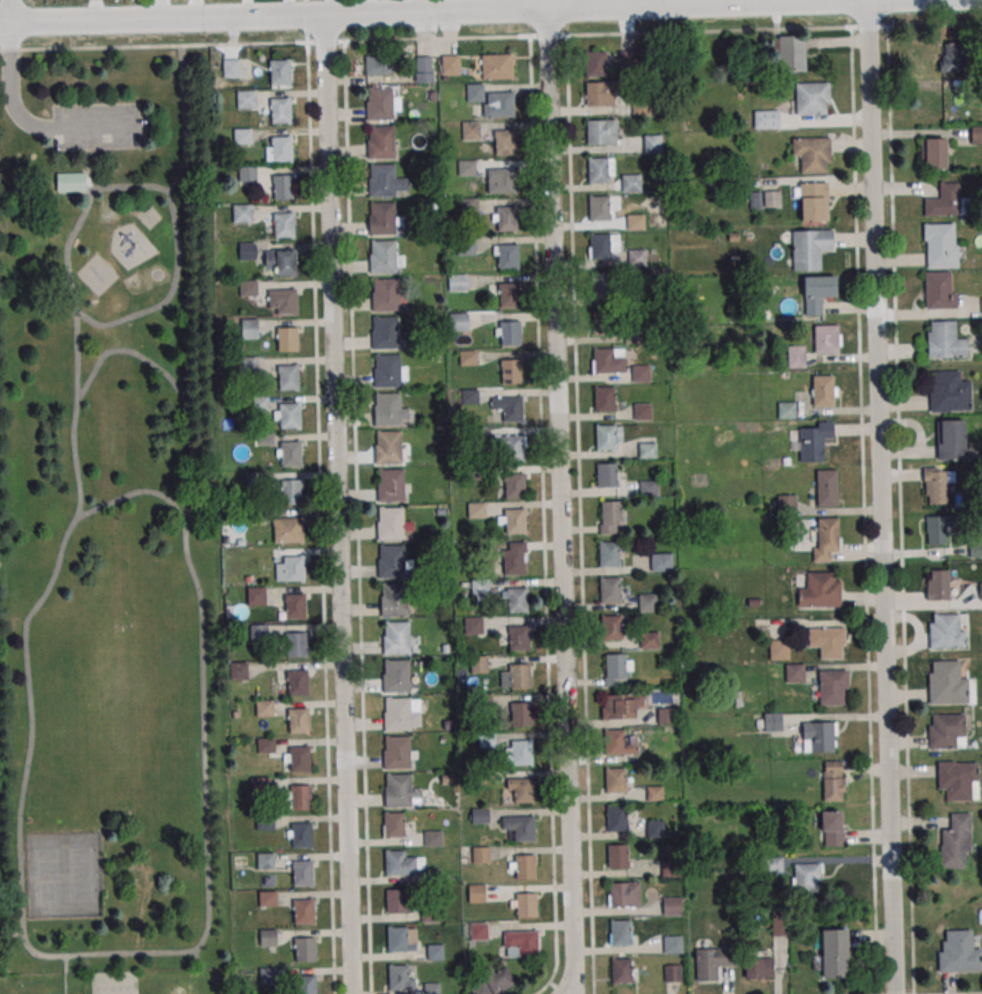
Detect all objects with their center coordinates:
road: (7, 11)
road: (434, 11)
road: (644, 31)
building: (791, 54)
building: (952, 57)
building: (379, 58)
building: (595, 63)
building: (450, 64)
building: (495, 66)
building: (232, 67)
building: (425, 69)
building: (280, 72)
road: (9, 87)
building: (596, 94)
building: (812, 98)
building: (246, 99)
building: (492, 101)
building: (380, 103)
building: (280, 110)
building: (766, 118)
parking lot: (97, 125)
building: (597, 132)
building: (976, 134)
building: (243, 136)
building: (504, 137)
building: (381, 142)
building: (653, 143)
building: (282, 148)
building: (934, 151)
building: (812, 154)
building: (598, 170)
building: (248, 173)
road: (175, 178)
building: (502, 179)
building: (382, 180)
building: (71, 181)
building: (631, 183)
building: (283, 186)
building: (772, 198)
building: (943, 200)
building: (812, 201)
building: (599, 208)
building: (242, 212)
building: (382, 218)
building: (506, 218)
building: (635, 221)
building: (284, 224)
building: (940, 245)
building: (600, 246)
building: (809, 247)
building: (248, 251)
building: (383, 256)
building: (508, 256)
building: (637, 257)
building: (286, 262)
building: (458, 282)
building: (602, 284)
building: (248, 287)
building: (813, 290)
building: (938, 290)
building: (385, 294)
building: (509, 295)
building: (286, 301)
building: (981, 307)
building: (459, 321)
road: (114, 322)
building: (603, 323)
building: (385, 332)
building: (511, 332)
building: (633, 337)
building: (288, 339)
building: (824, 339)
building: (944, 341)
road: (141, 356)
building: (604, 360)
building: (388, 370)
building: (511, 371)
building: (644, 373)
building: (288, 377)
building: (822, 390)
building: (948, 392)
building: (604, 398)
building: (388, 409)
building: (512, 409)
building: (786, 409)
building: (642, 411)
building: (289, 415)
building: (606, 436)
building: (950, 439)
building: (809, 445)
building: (389, 447)
building: (513, 448)
building: (648, 450)
building: (291, 453)
building: (606, 475)
building: (826, 484)
building: (391, 485)
building: (515, 485)
building: (935, 485)
building: (648, 488)
building: (293, 492)
road: (131, 493)
road: (882, 496)
road: (542, 498)
road: (561, 501)
building: (786, 502)
road: (337, 503)
building: (476, 509)
road: (899, 510)
building: (611, 512)
road: (579, 514)
park: (110, 515)
road: (320, 517)
road: (357, 517)
building: (514, 520)
building: (391, 523)
building: (938, 528)
building: (293, 529)
building: (827, 532)
building: (971, 549)
building: (609, 554)
building: (514, 558)
building: (391, 561)
building: (661, 561)
building: (294, 568)
building: (938, 584)
building: (816, 586)
building: (479, 587)
building: (609, 589)
building: (980, 591)
building: (394, 599)
building: (517, 599)
building: (648, 602)
building: (294, 606)
building: (473, 625)
building: (611, 627)
building: (945, 631)
building: (258, 632)
building: (396, 637)
building: (518, 637)
building: (649, 639)
building: (826, 641)
building: (296, 643)
building: (779, 649)
building: (479, 663)
building: (615, 665)
building: (239, 671)
building: (794, 673)
building: (396, 676)
building: (519, 676)
building: (298, 682)
building: (946, 683)
building: (831, 685)
building: (614, 706)
building: (264, 708)
building: (397, 713)
building: (521, 714)
park: (124, 718)
building: (299, 720)
building: (773, 721)
building: (944, 729)
building: (819, 736)
building: (614, 741)
building: (265, 745)
building: (397, 752)
building: (521, 752)
building: (300, 758)
building: (956, 779)
building: (615, 780)
building: (832, 781)
building: (260, 784)
building: (398, 790)
building: (523, 790)
building: (654, 793)
building: (302, 796)
building: (480, 815)
building: (616, 818)
building: (394, 824)
building: (831, 827)
building: (524, 828)
building: (655, 829)
building: (302, 835)
building: (433, 838)
building: (955, 840)
building: (481, 854)
building: (617, 856)
building: (266, 860)
building: (395, 862)
building: (773, 864)
building: (525, 867)
building: (303, 872)
park: (63, 874)
building: (805, 876)
building: (477, 893)
building: (619, 894)
building: (268, 898)
building: (396, 900)
building: (526, 904)
building: (671, 906)
building: (304, 911)
building: (479, 931)
building: (619, 932)
building: (268, 937)
building: (398, 938)
building: (527, 943)
building: (672, 944)
building: (305, 949)
building: (435, 952)
building: (958, 952)
building: (833, 953)
road: (49, 954)
building: (712, 962)
building: (758, 968)
building: (621, 970)
building: (672, 973)
building: (268, 975)
building: (400, 977)
road: (549, 980)
building: (491, 981)
building: (306, 984)
building: (432, 988)

